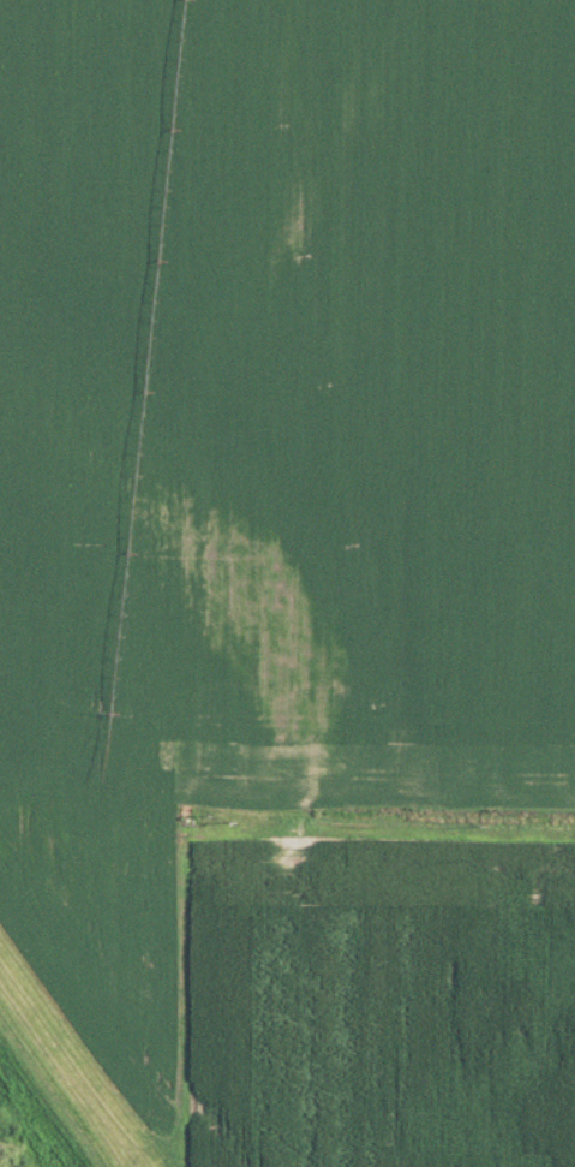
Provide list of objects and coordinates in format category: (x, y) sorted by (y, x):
crop: (297, 562)

